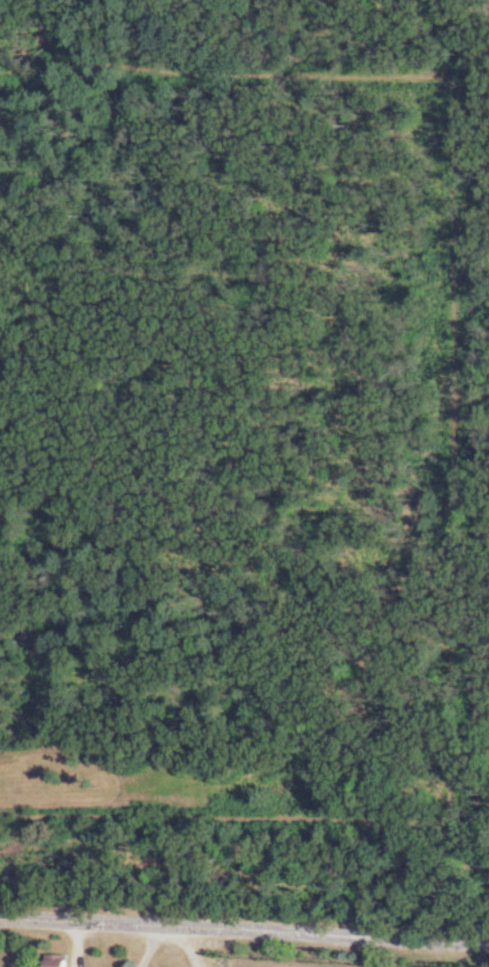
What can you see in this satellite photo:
road: (244, 927)
road: (80, 944)
road: (194, 945)
road: (153, 947)
building: (60, 961)

